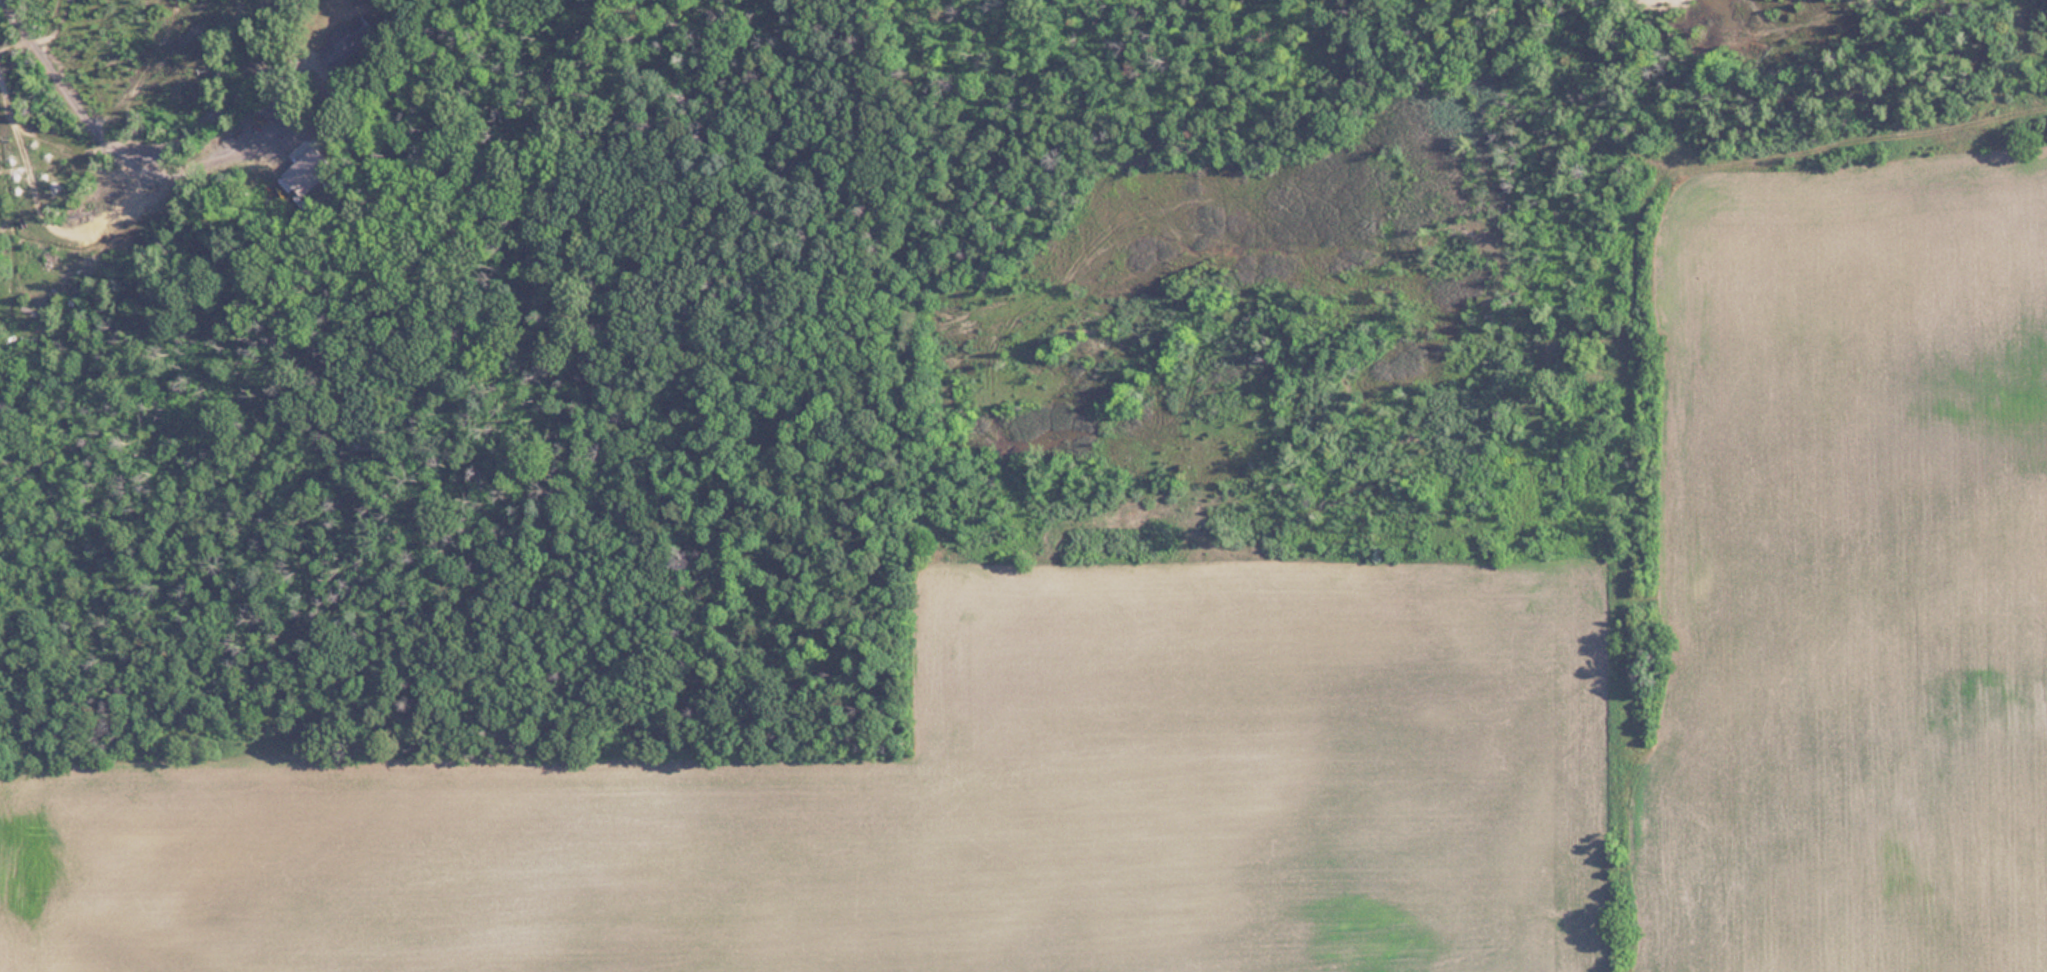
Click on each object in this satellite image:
building: (347, 43)
road: (165, 155)
road: (1632, 356)
road: (866, 571)

